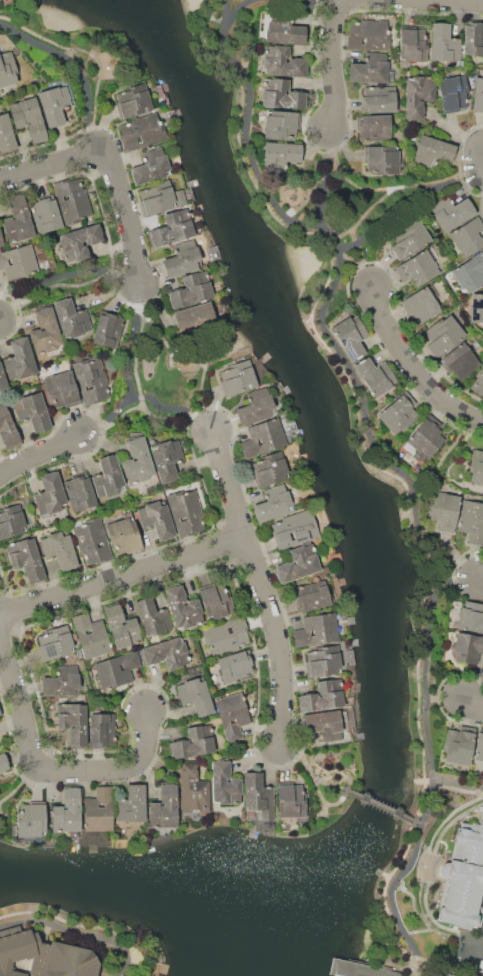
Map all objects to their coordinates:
road: (432, 4)
building: (287, 33)
building: (368, 35)
building: (473, 38)
building: (412, 43)
building: (444, 43)
building: (281, 61)
road: (77, 64)
road: (335, 64)
building: (7, 69)
building: (371, 69)
building: (453, 93)
building: (281, 94)
building: (478, 95)
building: (417, 96)
building: (379, 99)
building: (133, 100)
building: (54, 104)
building: (29, 118)
building: (281, 124)
building: (373, 128)
building: (143, 133)
building: (6, 134)
building: (433, 151)
building: (280, 156)
building: (382, 160)
road: (111, 166)
building: (149, 172)
road: (323, 187)
building: (156, 198)
building: (73, 200)
road: (378, 203)
building: (450, 212)
building: (45, 215)
building: (17, 220)
building: (172, 232)
building: (469, 236)
building: (409, 238)
building: (1, 239)
building: (80, 241)
building: (18, 262)
building: (180, 263)
building: (418, 267)
building: (469, 272)
building: (190, 294)
road: (328, 295)
building: (421, 305)
building: (476, 308)
building: (194, 315)
building: (71, 319)
building: (107, 329)
building: (44, 332)
building: (444, 334)
building: (351, 336)
road: (139, 348)
building: (20, 360)
building: (460, 361)
road: (411, 369)
building: (375, 375)
building: (90, 377)
building: (238, 379)
building: (2, 380)
building: (478, 384)
building: (61, 390)
building: (256, 406)
building: (32, 412)
road: (147, 412)
building: (401, 413)
building: (8, 430)
building: (263, 438)
building: (424, 439)
road: (40, 455)
building: (166, 459)
building: (137, 462)
building: (476, 466)
road: (436, 467)
building: (269, 469)
building: (108, 477)
building: (79, 493)
building: (50, 494)
building: (273, 503)
building: (443, 510)
building: (186, 512)
building: (157, 519)
building: (11, 521)
building: (472, 521)
building: (294, 529)
building: (124, 535)
building: (92, 541)
building: (59, 549)
building: (26, 558)
building: (298, 563)
road: (123, 578)
road: (481, 579)
road: (261, 586)
building: (310, 595)
building: (215, 600)
building: (183, 608)
building: (152, 617)
building: (471, 617)
building: (121, 627)
building: (317, 629)
building: (226, 635)
building: (91, 636)
building: (54, 643)
building: (467, 647)
building: (166, 653)
building: (322, 661)
building: (235, 665)
building: (116, 670)
building: (61, 681)
road: (426, 688)
building: (196, 695)
building: (323, 697)
road: (448, 697)
road: (477, 703)
building: (1, 710)
building: (232, 715)
building: (72, 721)
building: (324, 721)
building: (102, 729)
building: (194, 742)
building: (460, 744)
building: (1, 745)
building: (479, 746)
building: (2, 762)
road: (45, 769)
road: (312, 773)
road: (456, 780)
building: (224, 783)
building: (192, 788)
building: (258, 798)
building: (291, 800)
building: (131, 804)
building: (164, 807)
road: (387, 809)
building: (98, 810)
building: (67, 811)
building: (29, 820)
road: (420, 845)
building: (463, 879)
road: (400, 916)
road: (72, 931)
road: (479, 954)
building: (45, 957)
pier: (343, 967)
building: (357, 969)
road: (126, 970)

